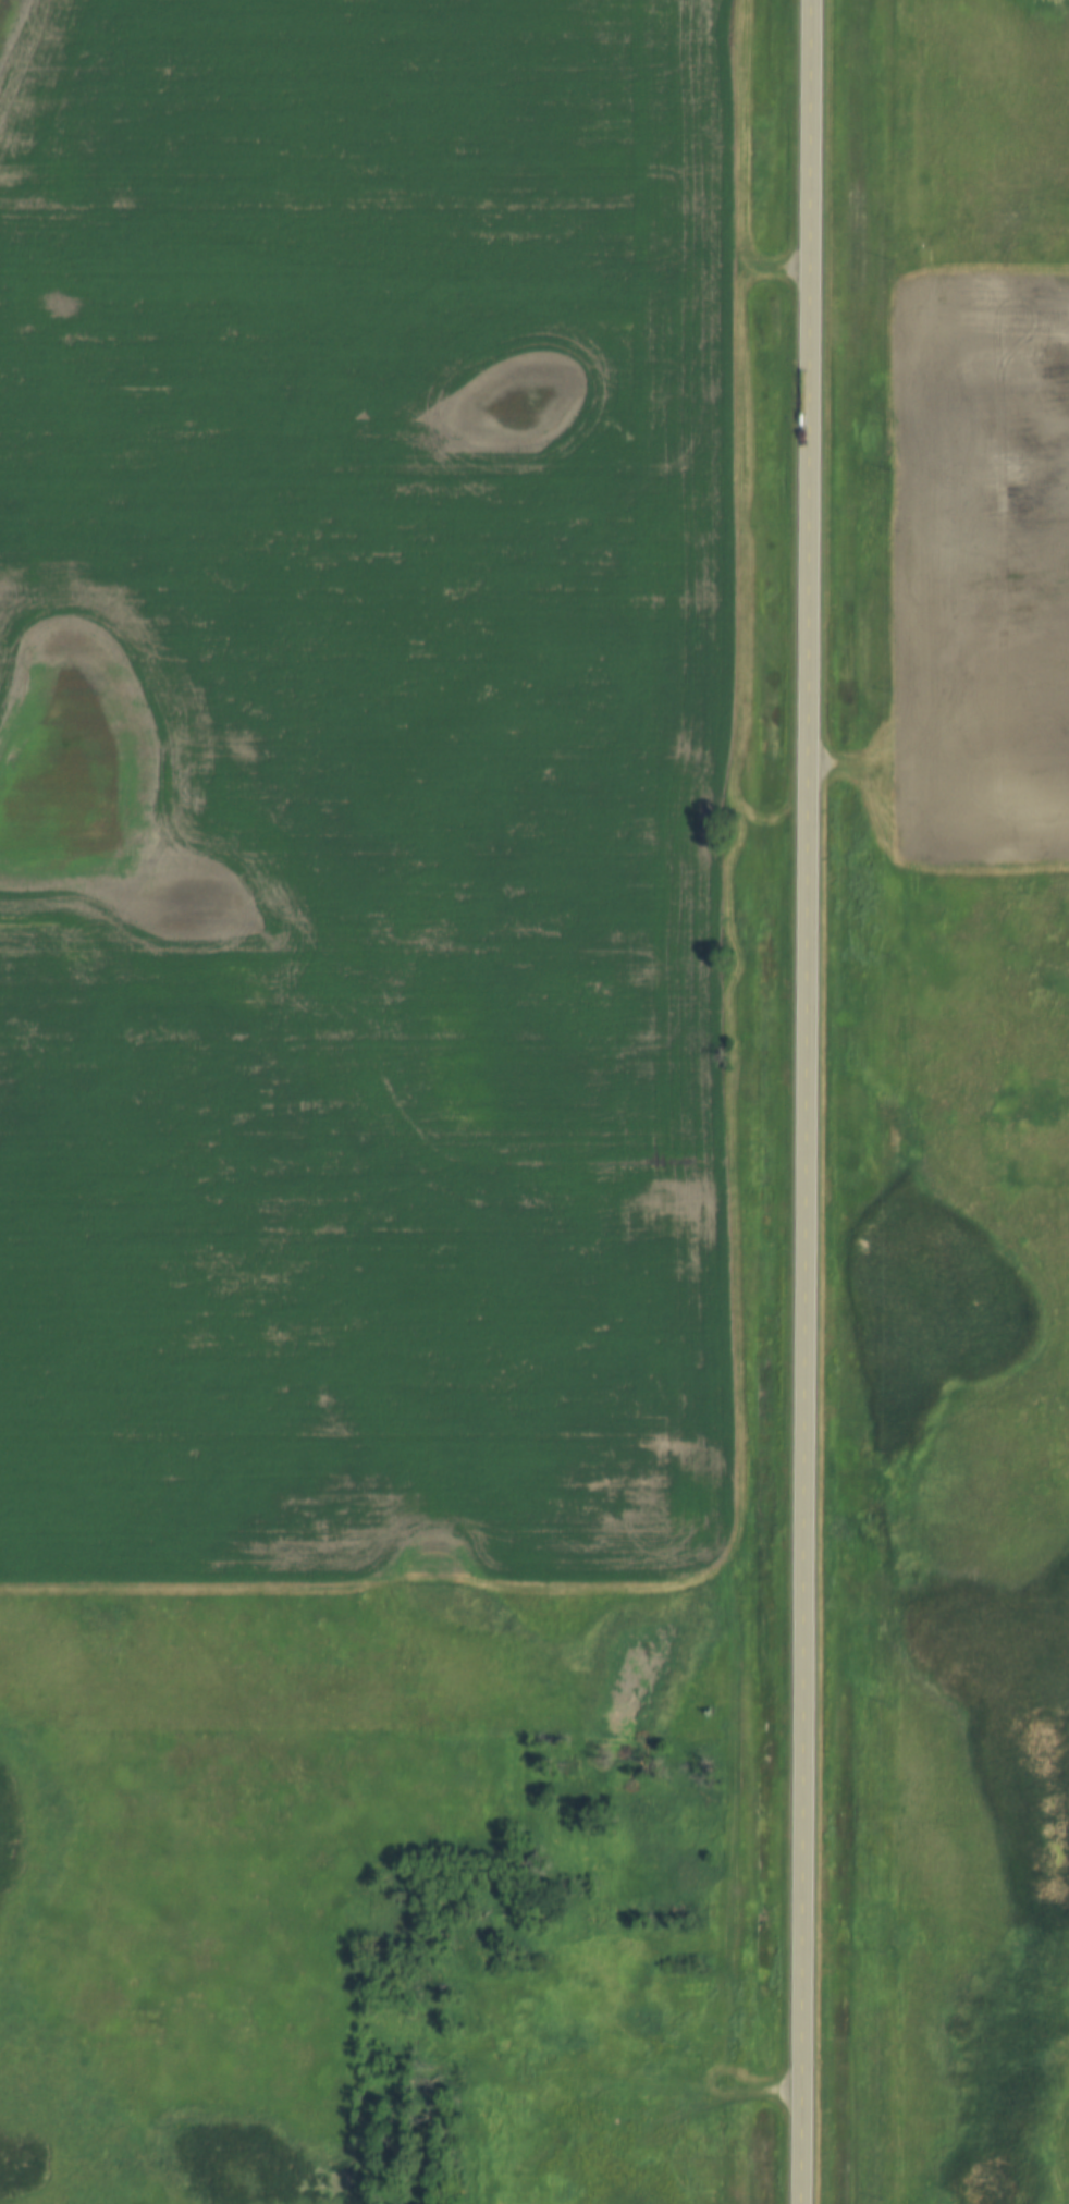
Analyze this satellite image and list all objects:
road: (809, 1101)

